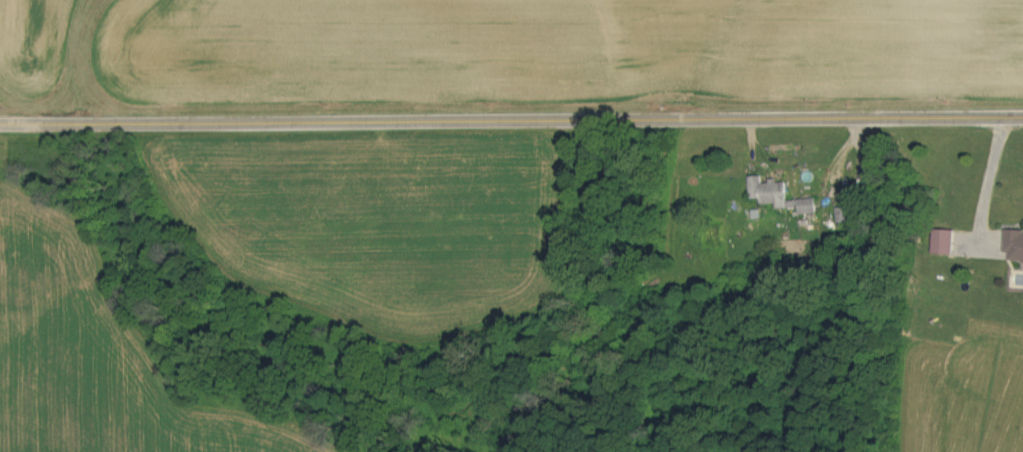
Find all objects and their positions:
road: (511, 122)
road: (984, 182)
building: (782, 196)
building: (947, 242)
building: (1016, 245)

